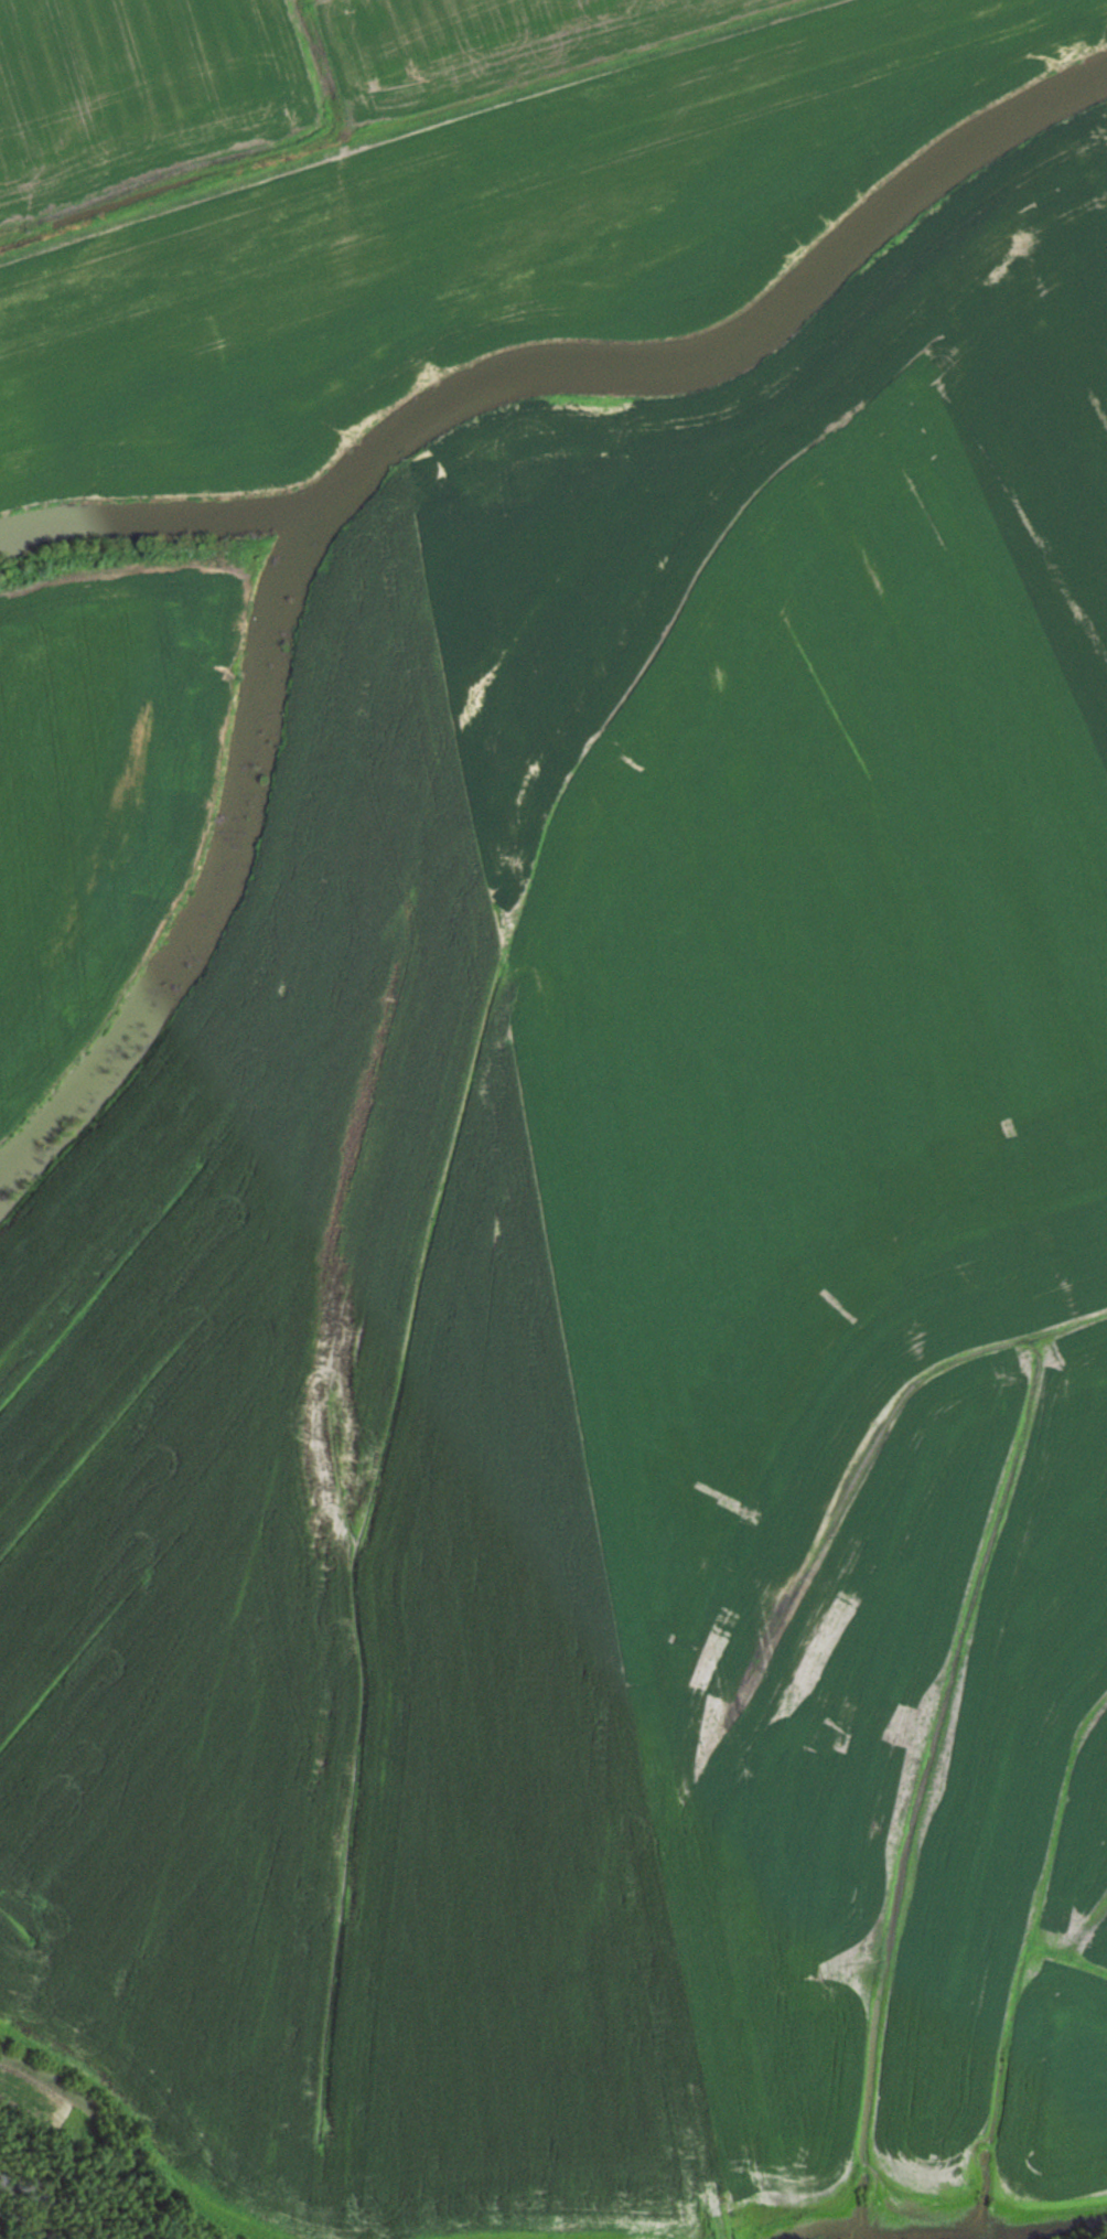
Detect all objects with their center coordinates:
road: (407, 127)
road: (714, 2211)

